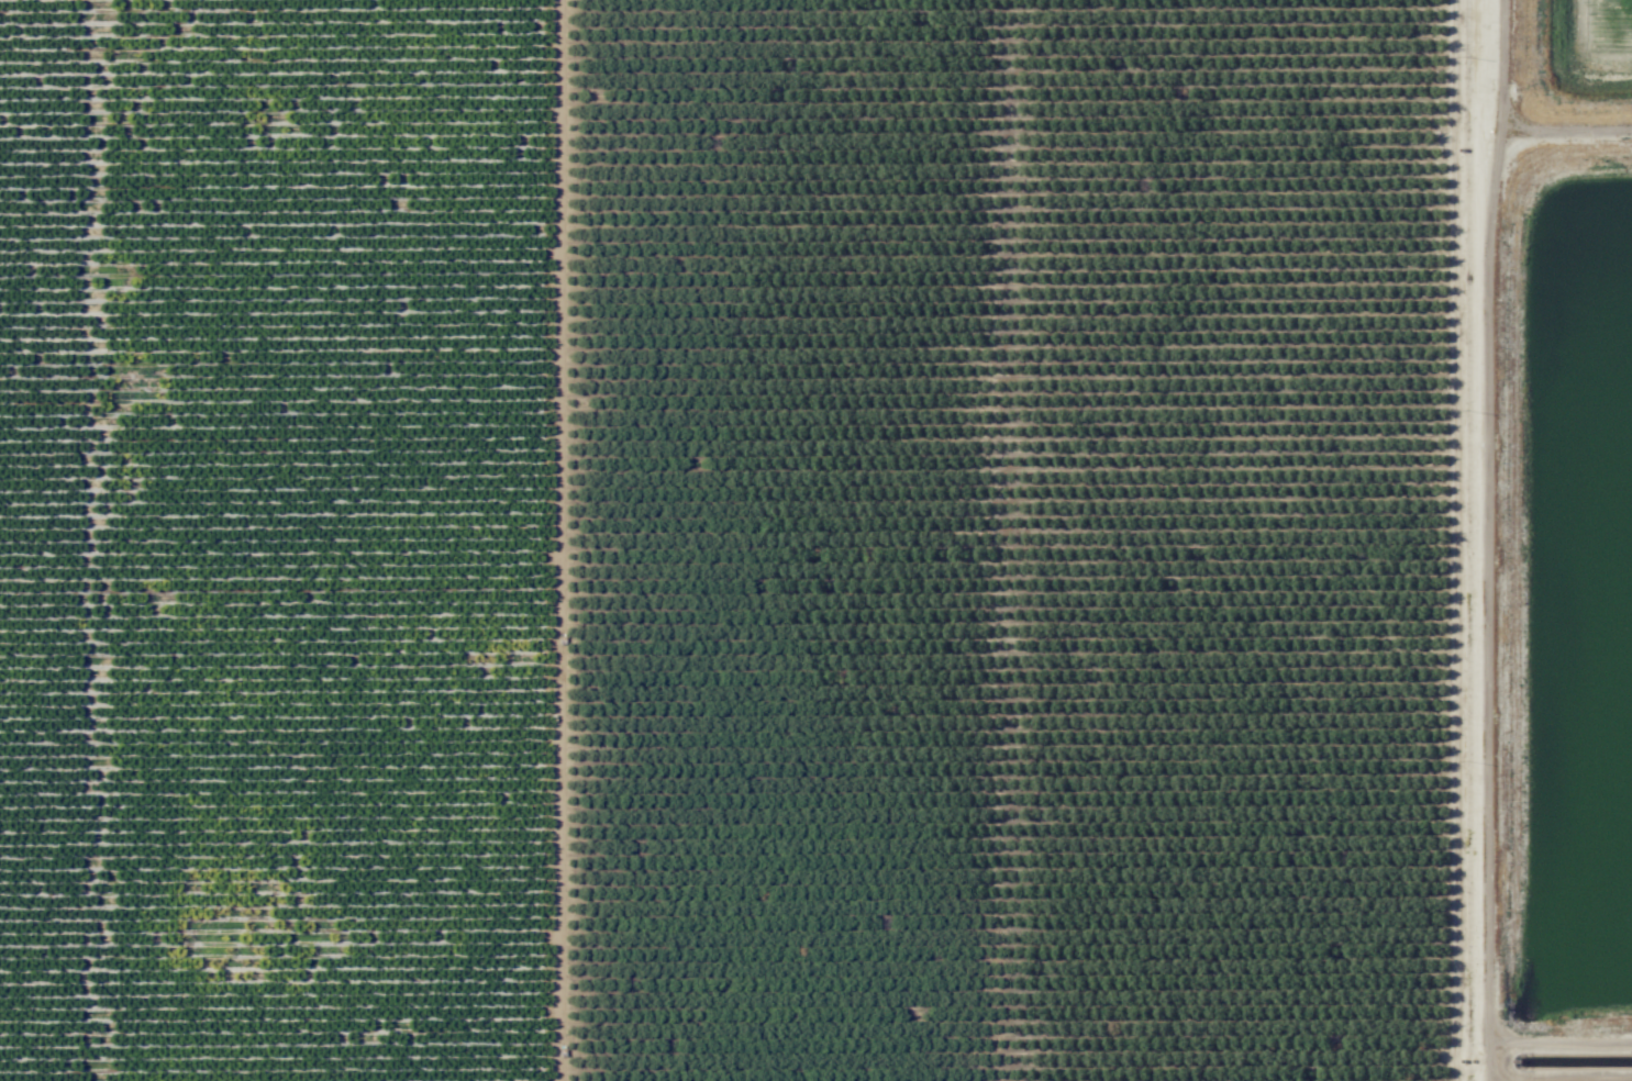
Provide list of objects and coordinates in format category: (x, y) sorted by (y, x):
wastewater plant: (1585, 55)
road: (1566, 136)
road: (1489, 471)
wastewater plant: (1548, 539)
road: (1458, 540)
wastewater plant: (1581, 597)
road: (1521, 1038)
road: (1495, 1049)
road: (1564, 1077)

